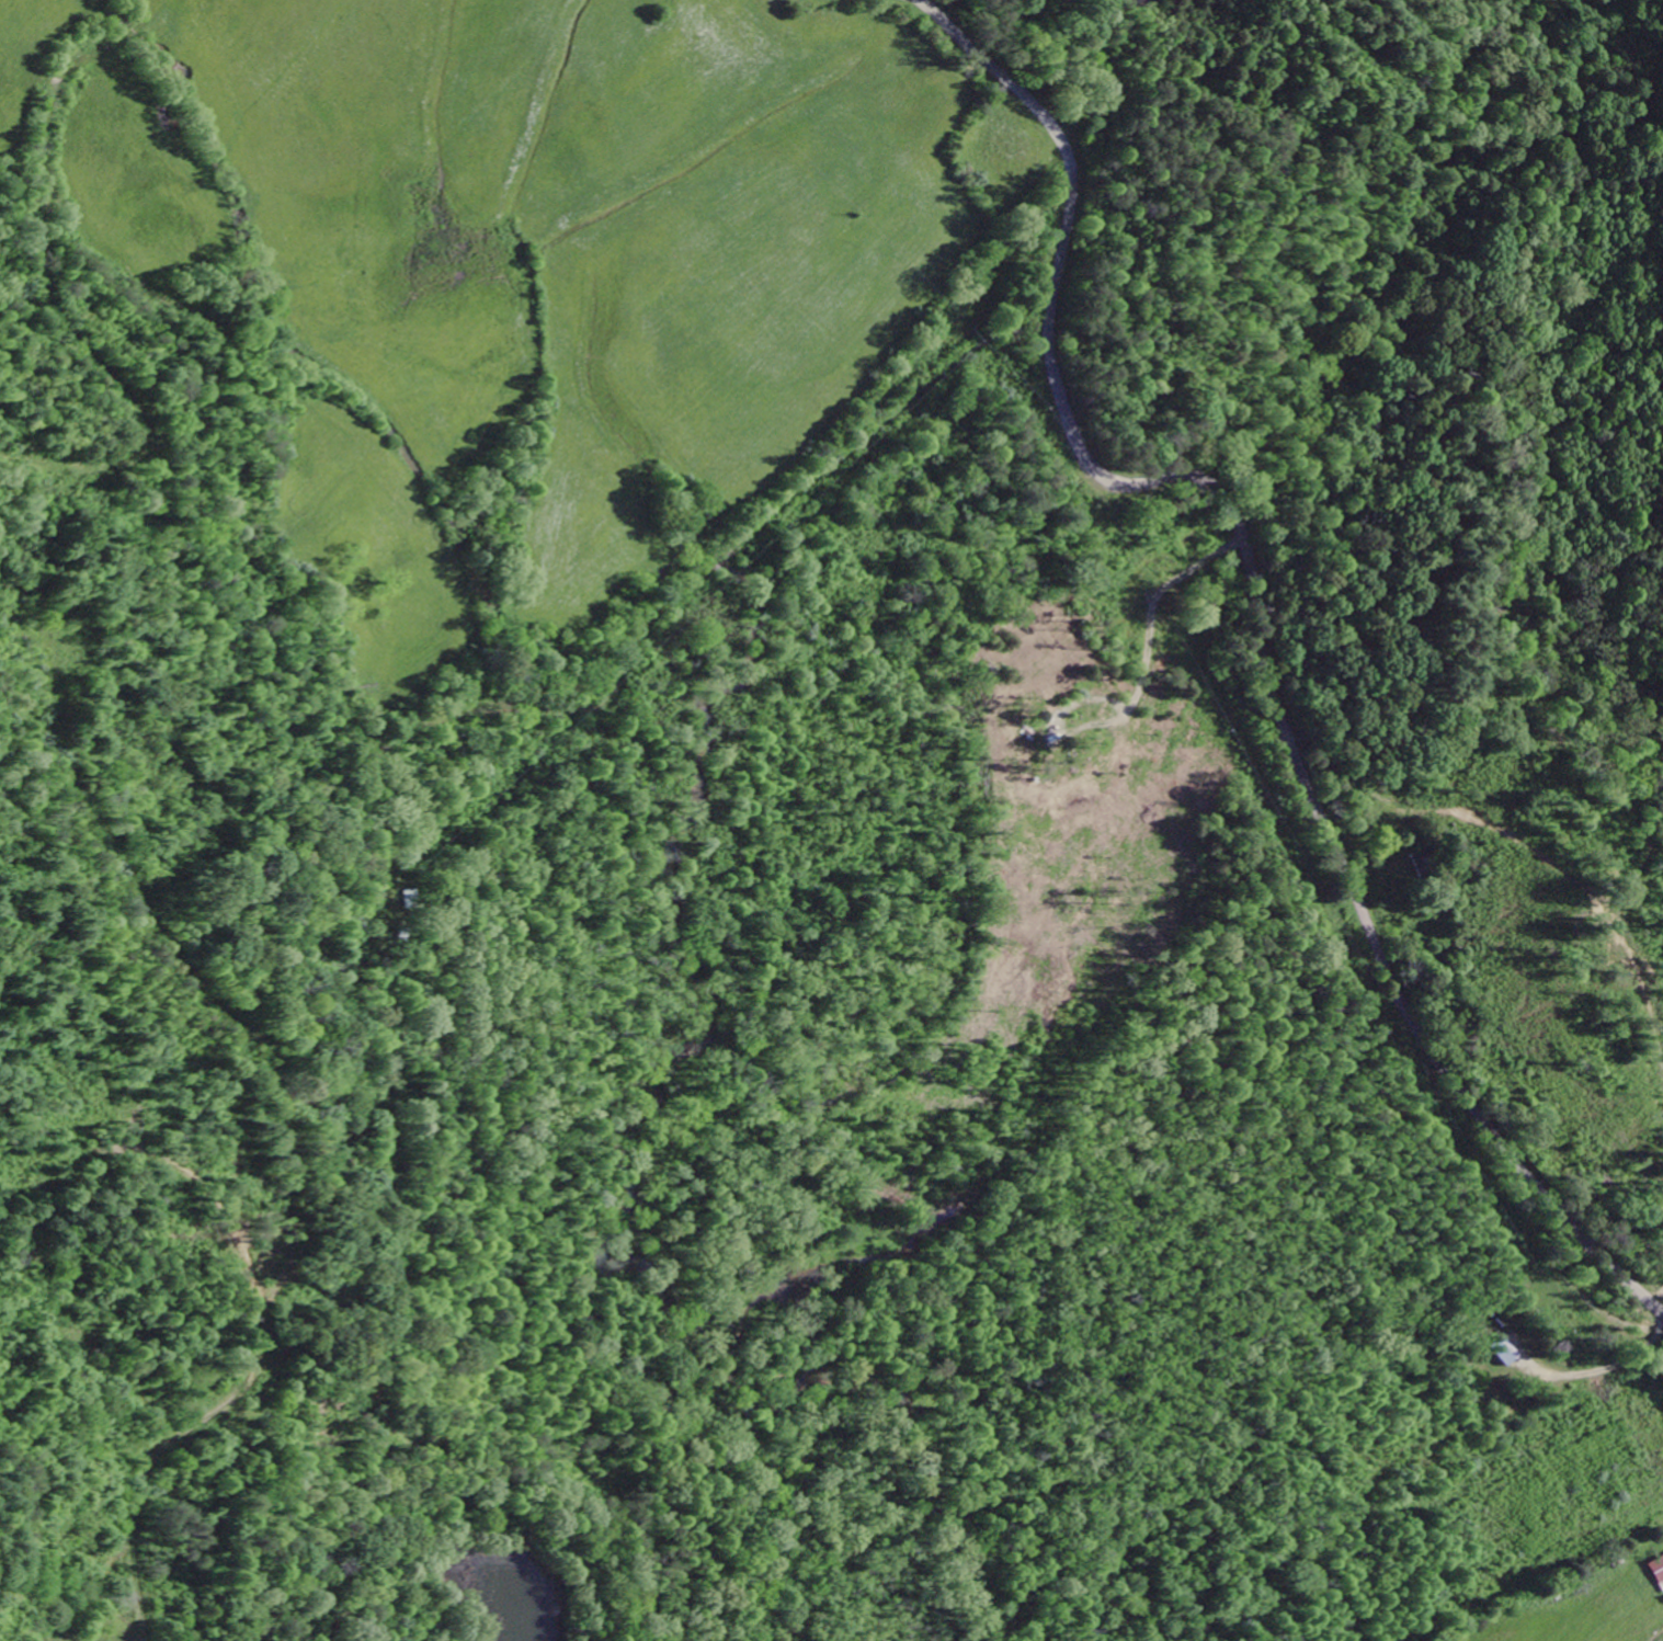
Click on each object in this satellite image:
road: (1255, 619)
building: (1508, 1352)
building: (1659, 1569)

